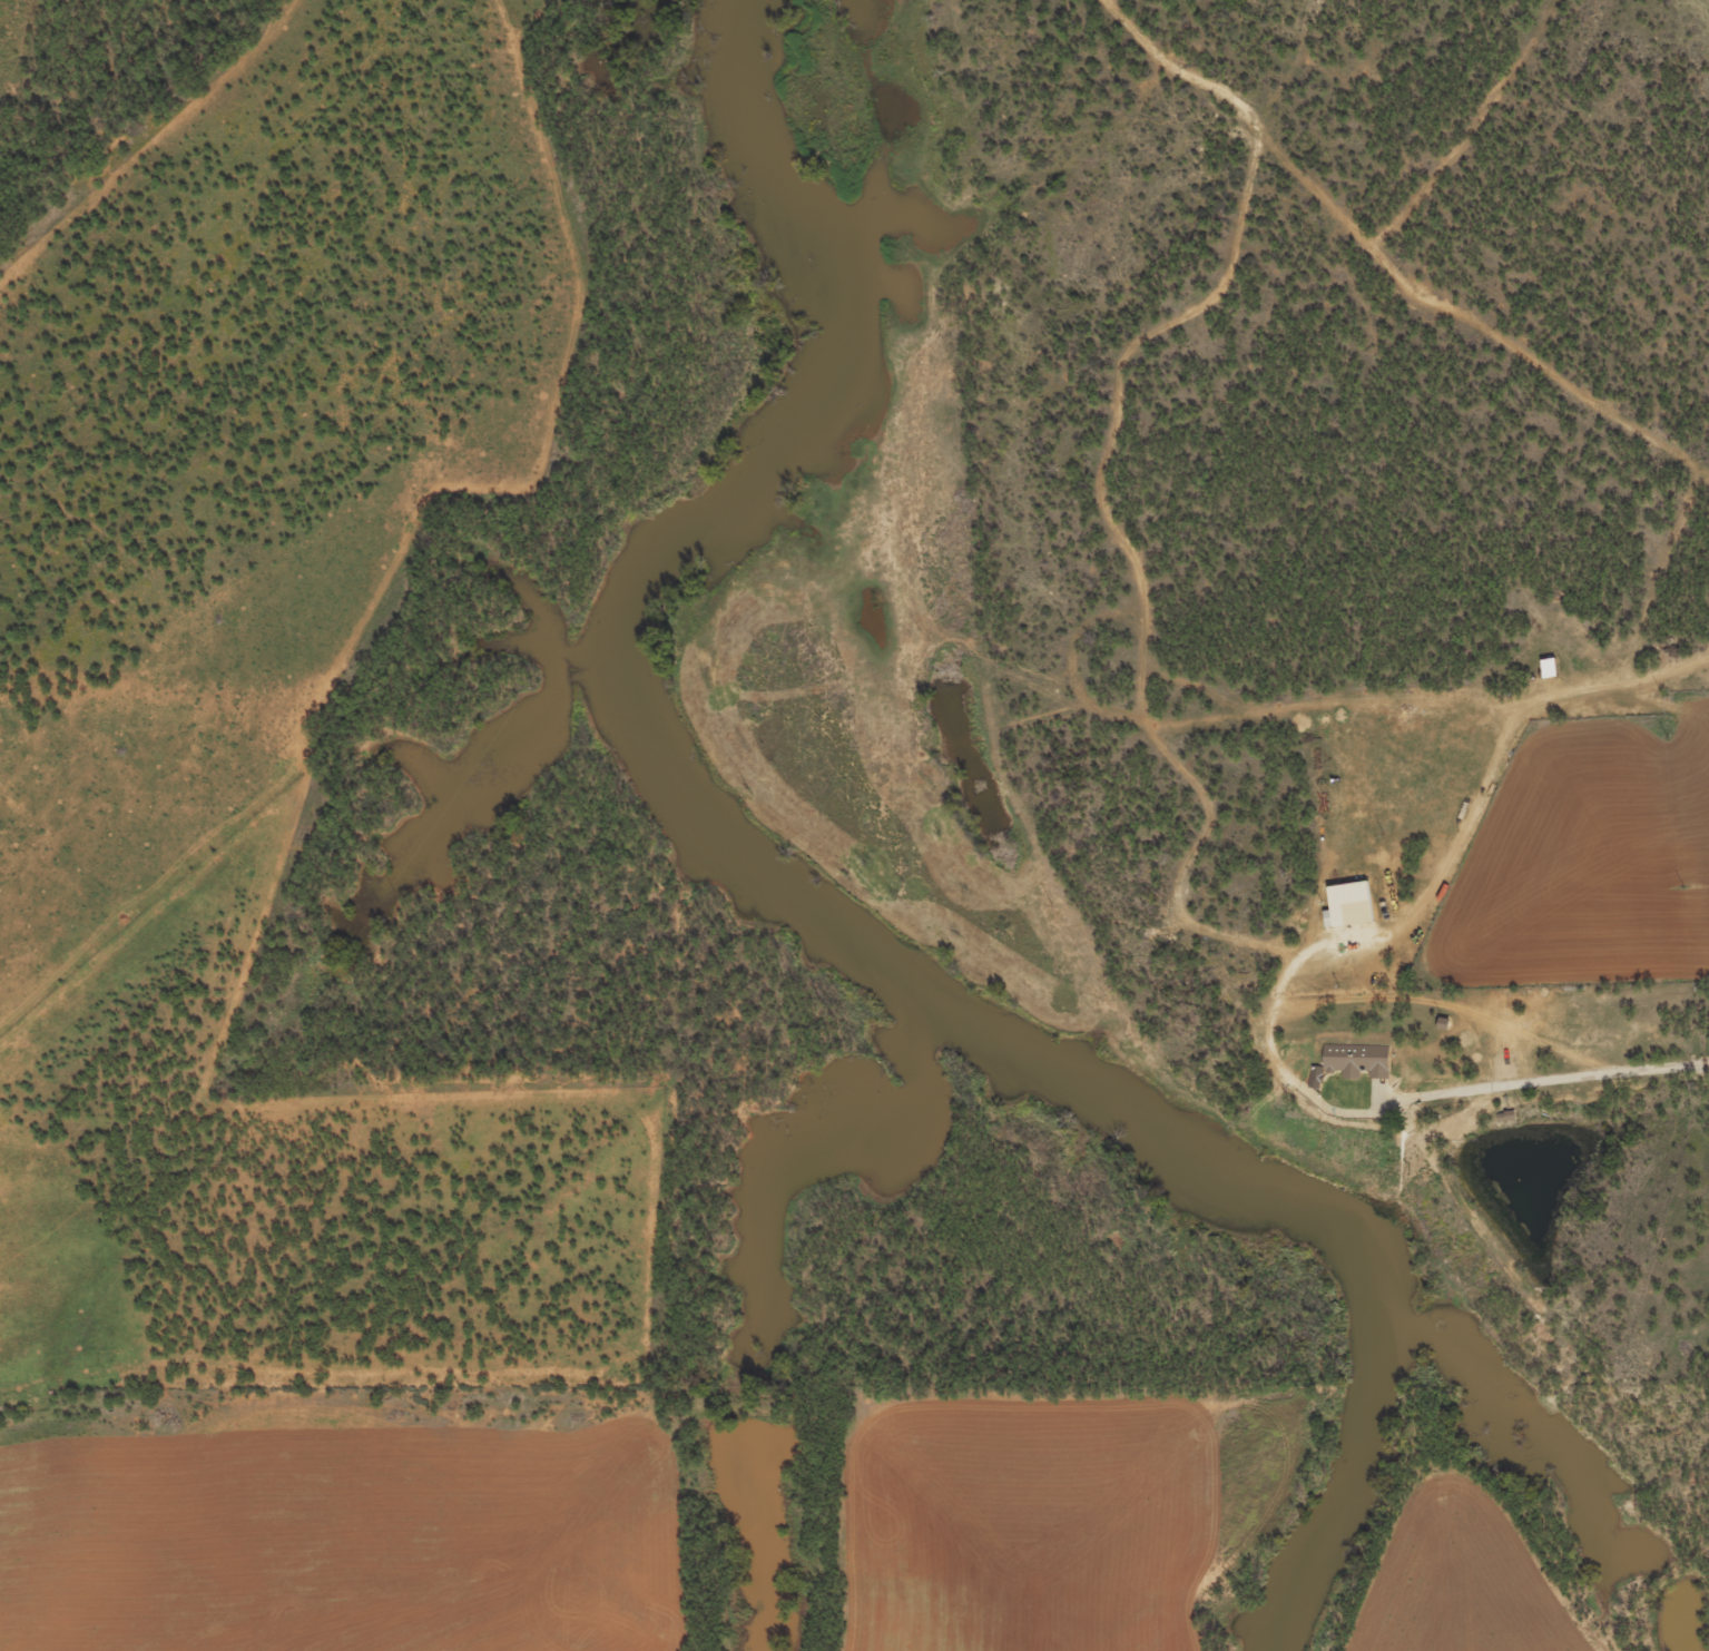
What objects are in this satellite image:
building: (1549, 678)
building: (1350, 914)
building: (1356, 1070)
road: (1548, 1077)

